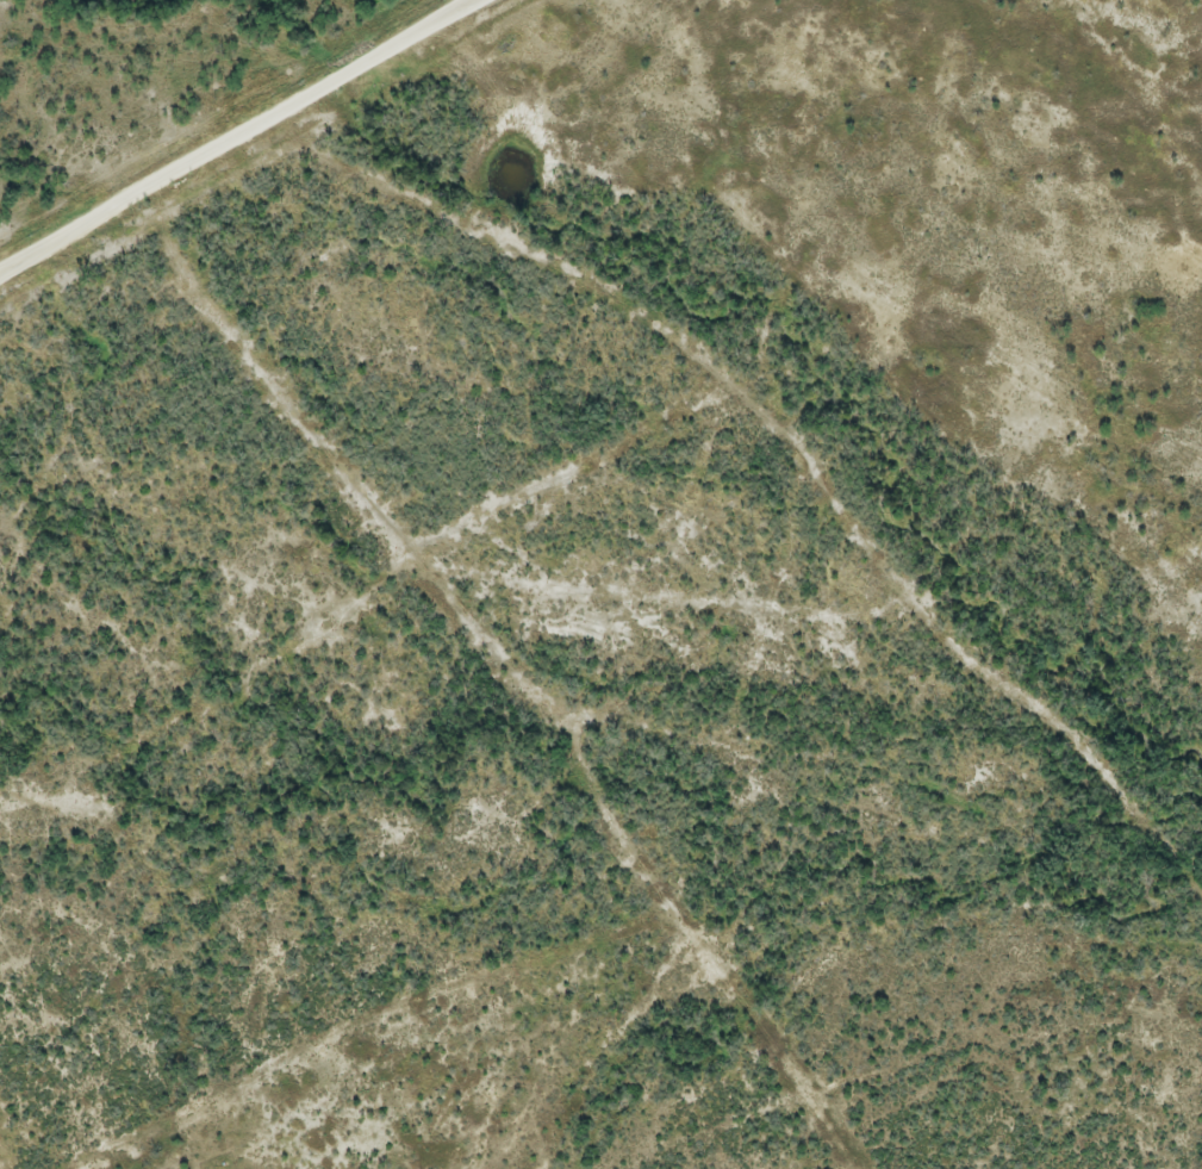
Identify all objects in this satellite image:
road: (237, 137)

